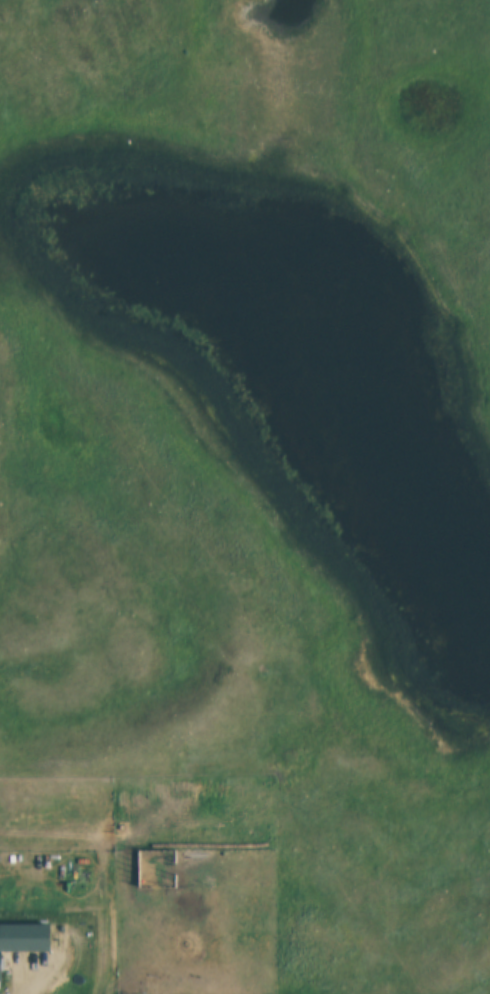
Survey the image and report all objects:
building: (24, 916)
road: (9, 963)
building: (0, 966)

